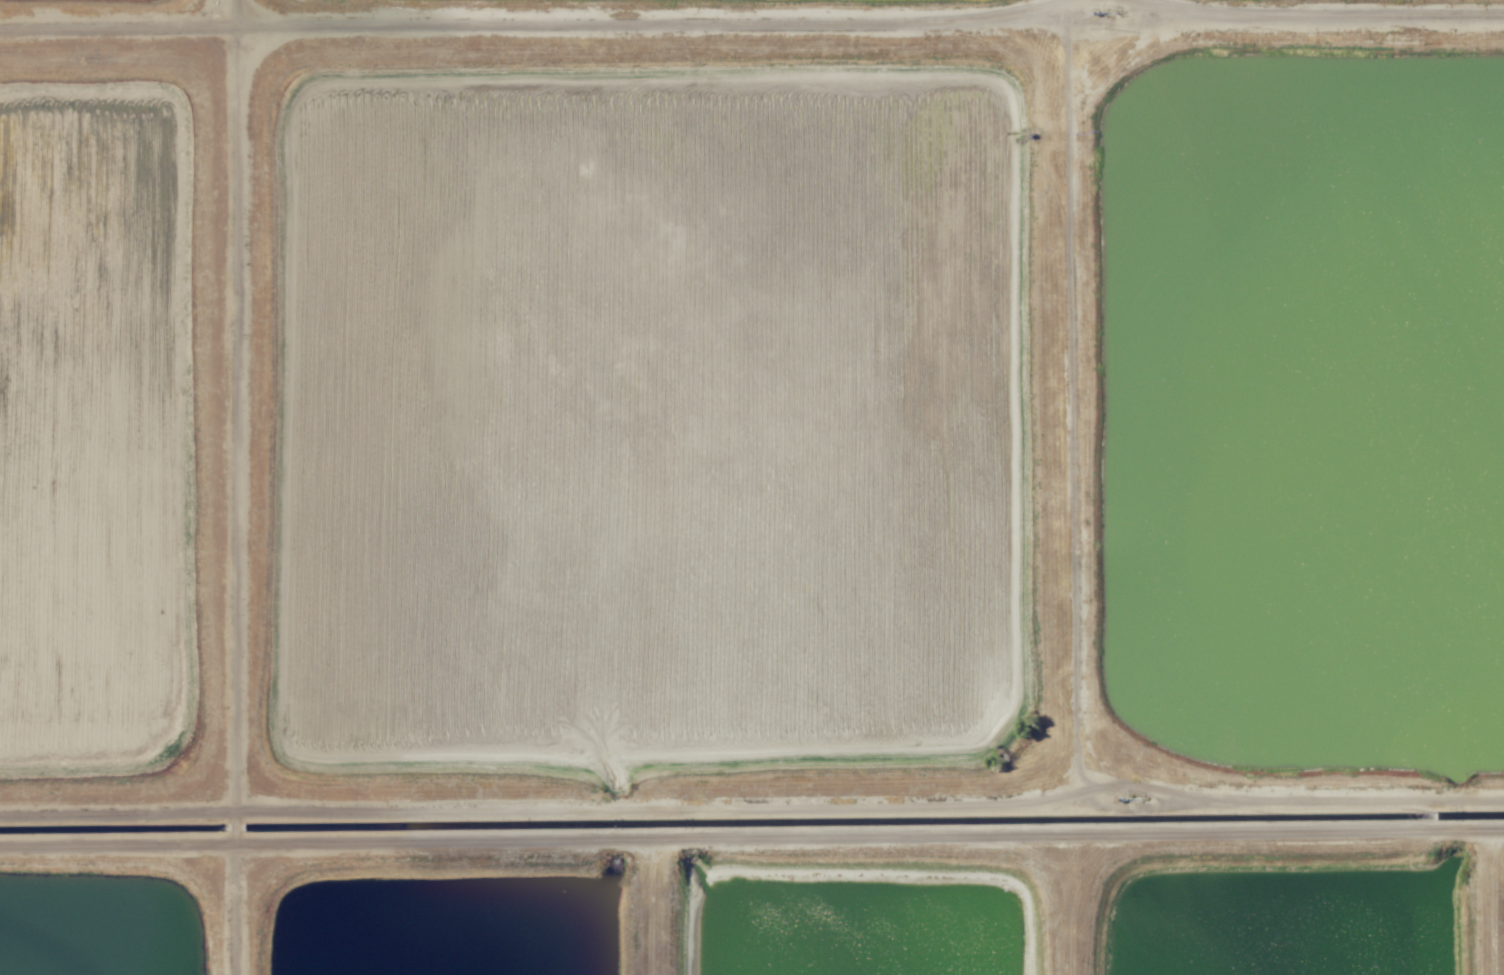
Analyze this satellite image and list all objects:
road: (1074, 6)
road: (1142, 8)
road: (756, 17)
road: (1069, 396)
wastewater plant: (94, 407)
wastewater plant: (1315, 408)
wastewater plant: (649, 409)
road: (232, 487)
wastewater plant: (752, 487)
road: (753, 807)
road: (751, 837)
road: (1495, 902)
road: (1071, 904)
road: (655, 906)
wastewater plant: (1285, 915)
wastewater plant: (445, 923)
wastewater plant: (858, 924)
wastewater plant: (84, 930)

